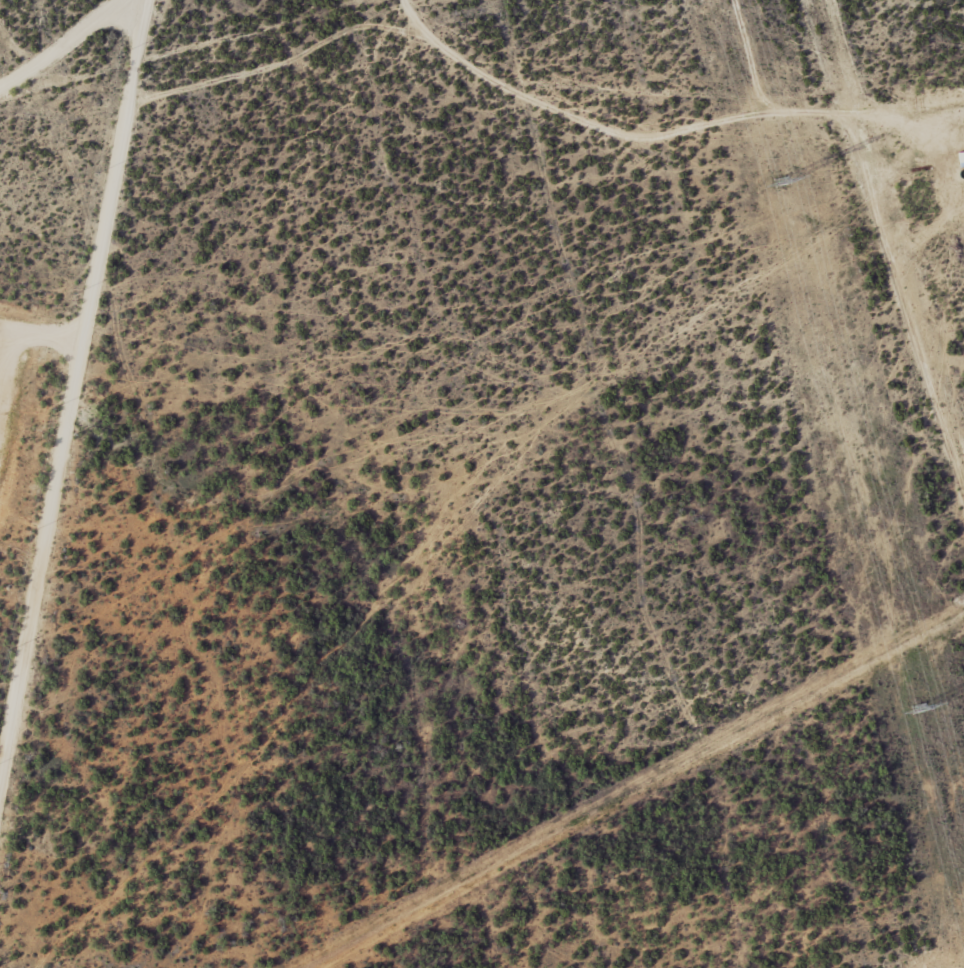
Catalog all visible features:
road: (196, 51)
road: (660, 104)
power tower: (779, 180)
power tower: (917, 709)

